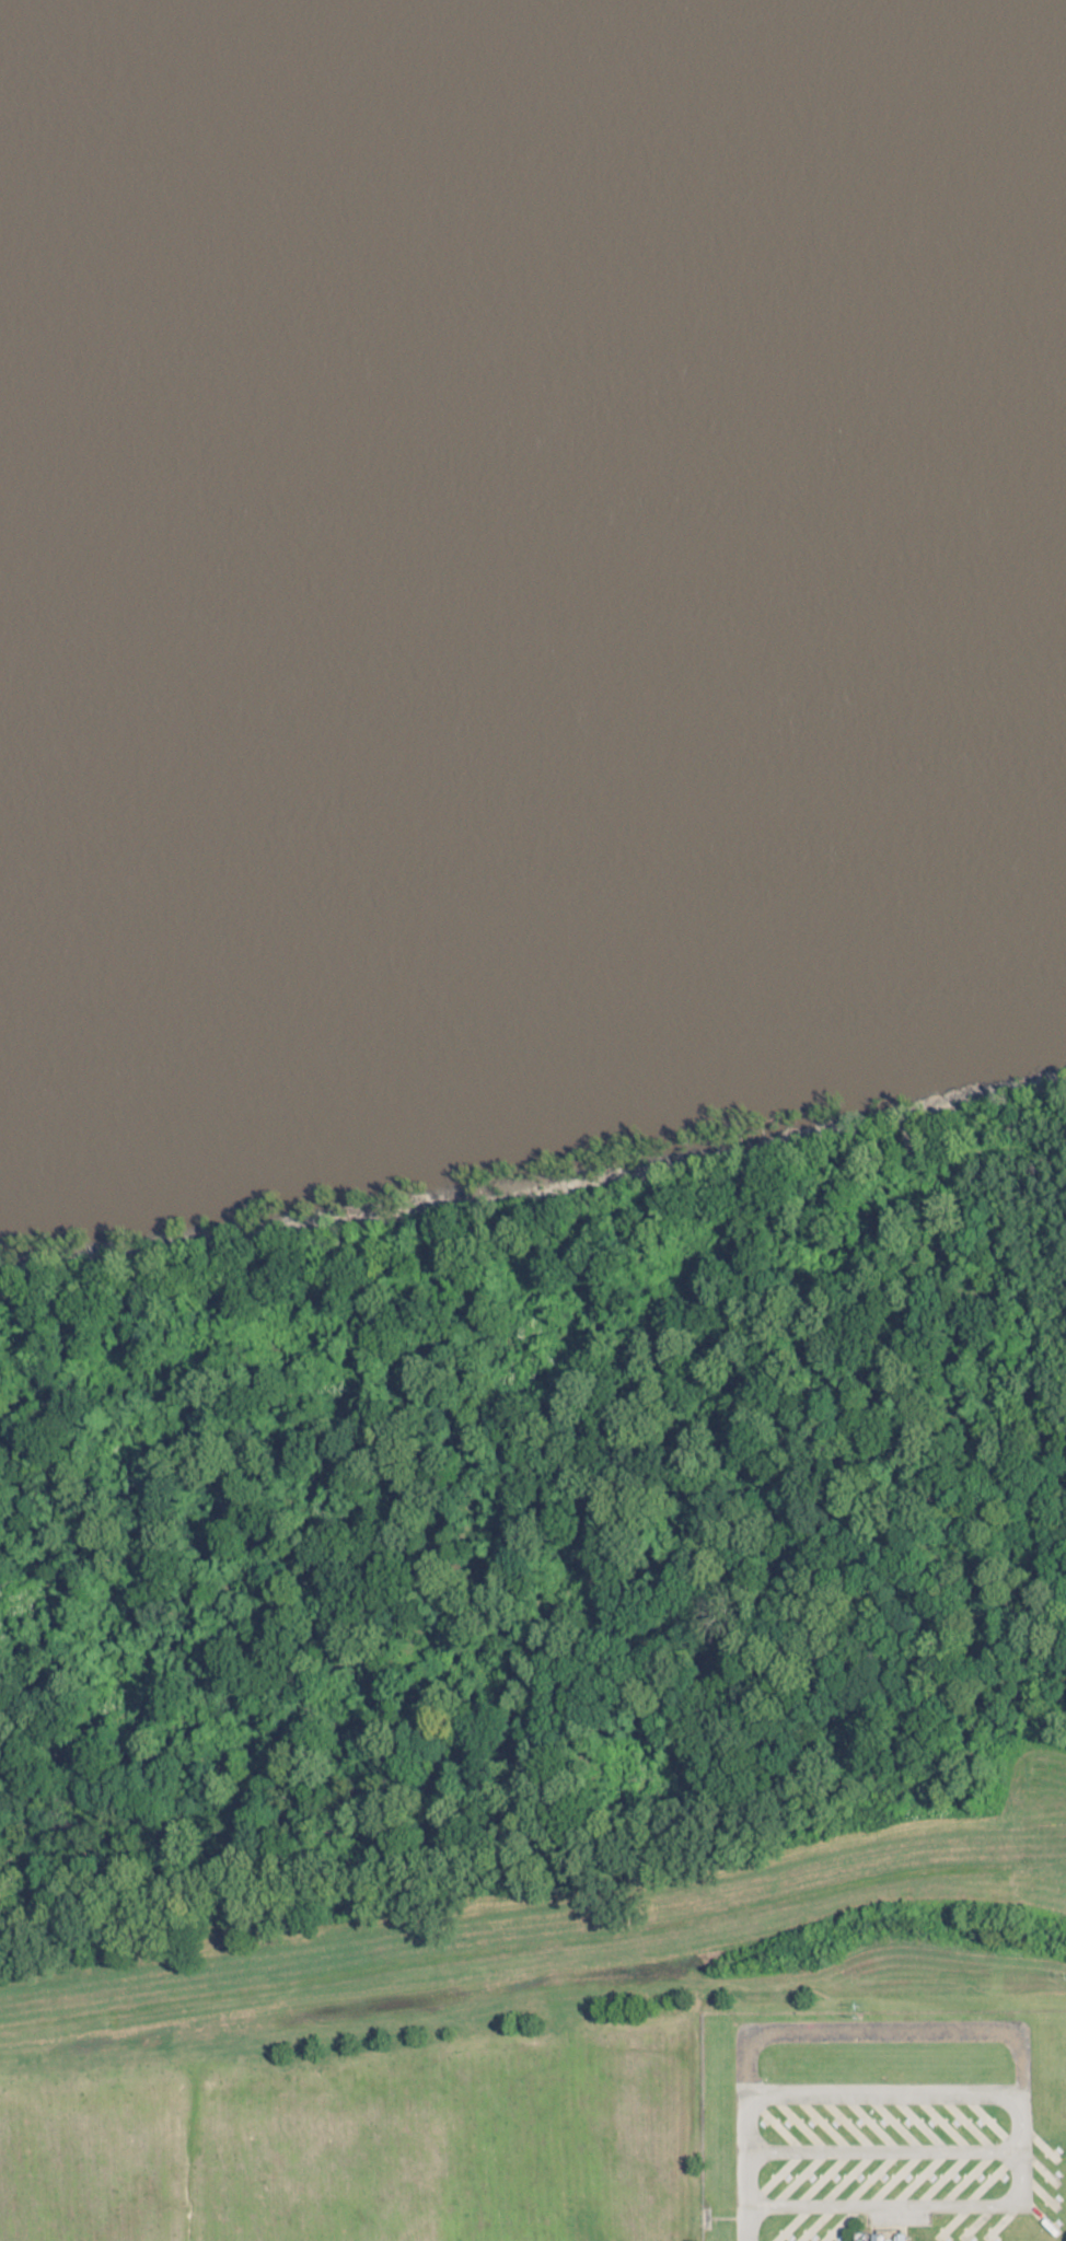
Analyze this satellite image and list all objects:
river: (533, 152)
road: (1019, 2033)
road: (882, 2118)
road: (745, 2222)
building: (896, 2233)

